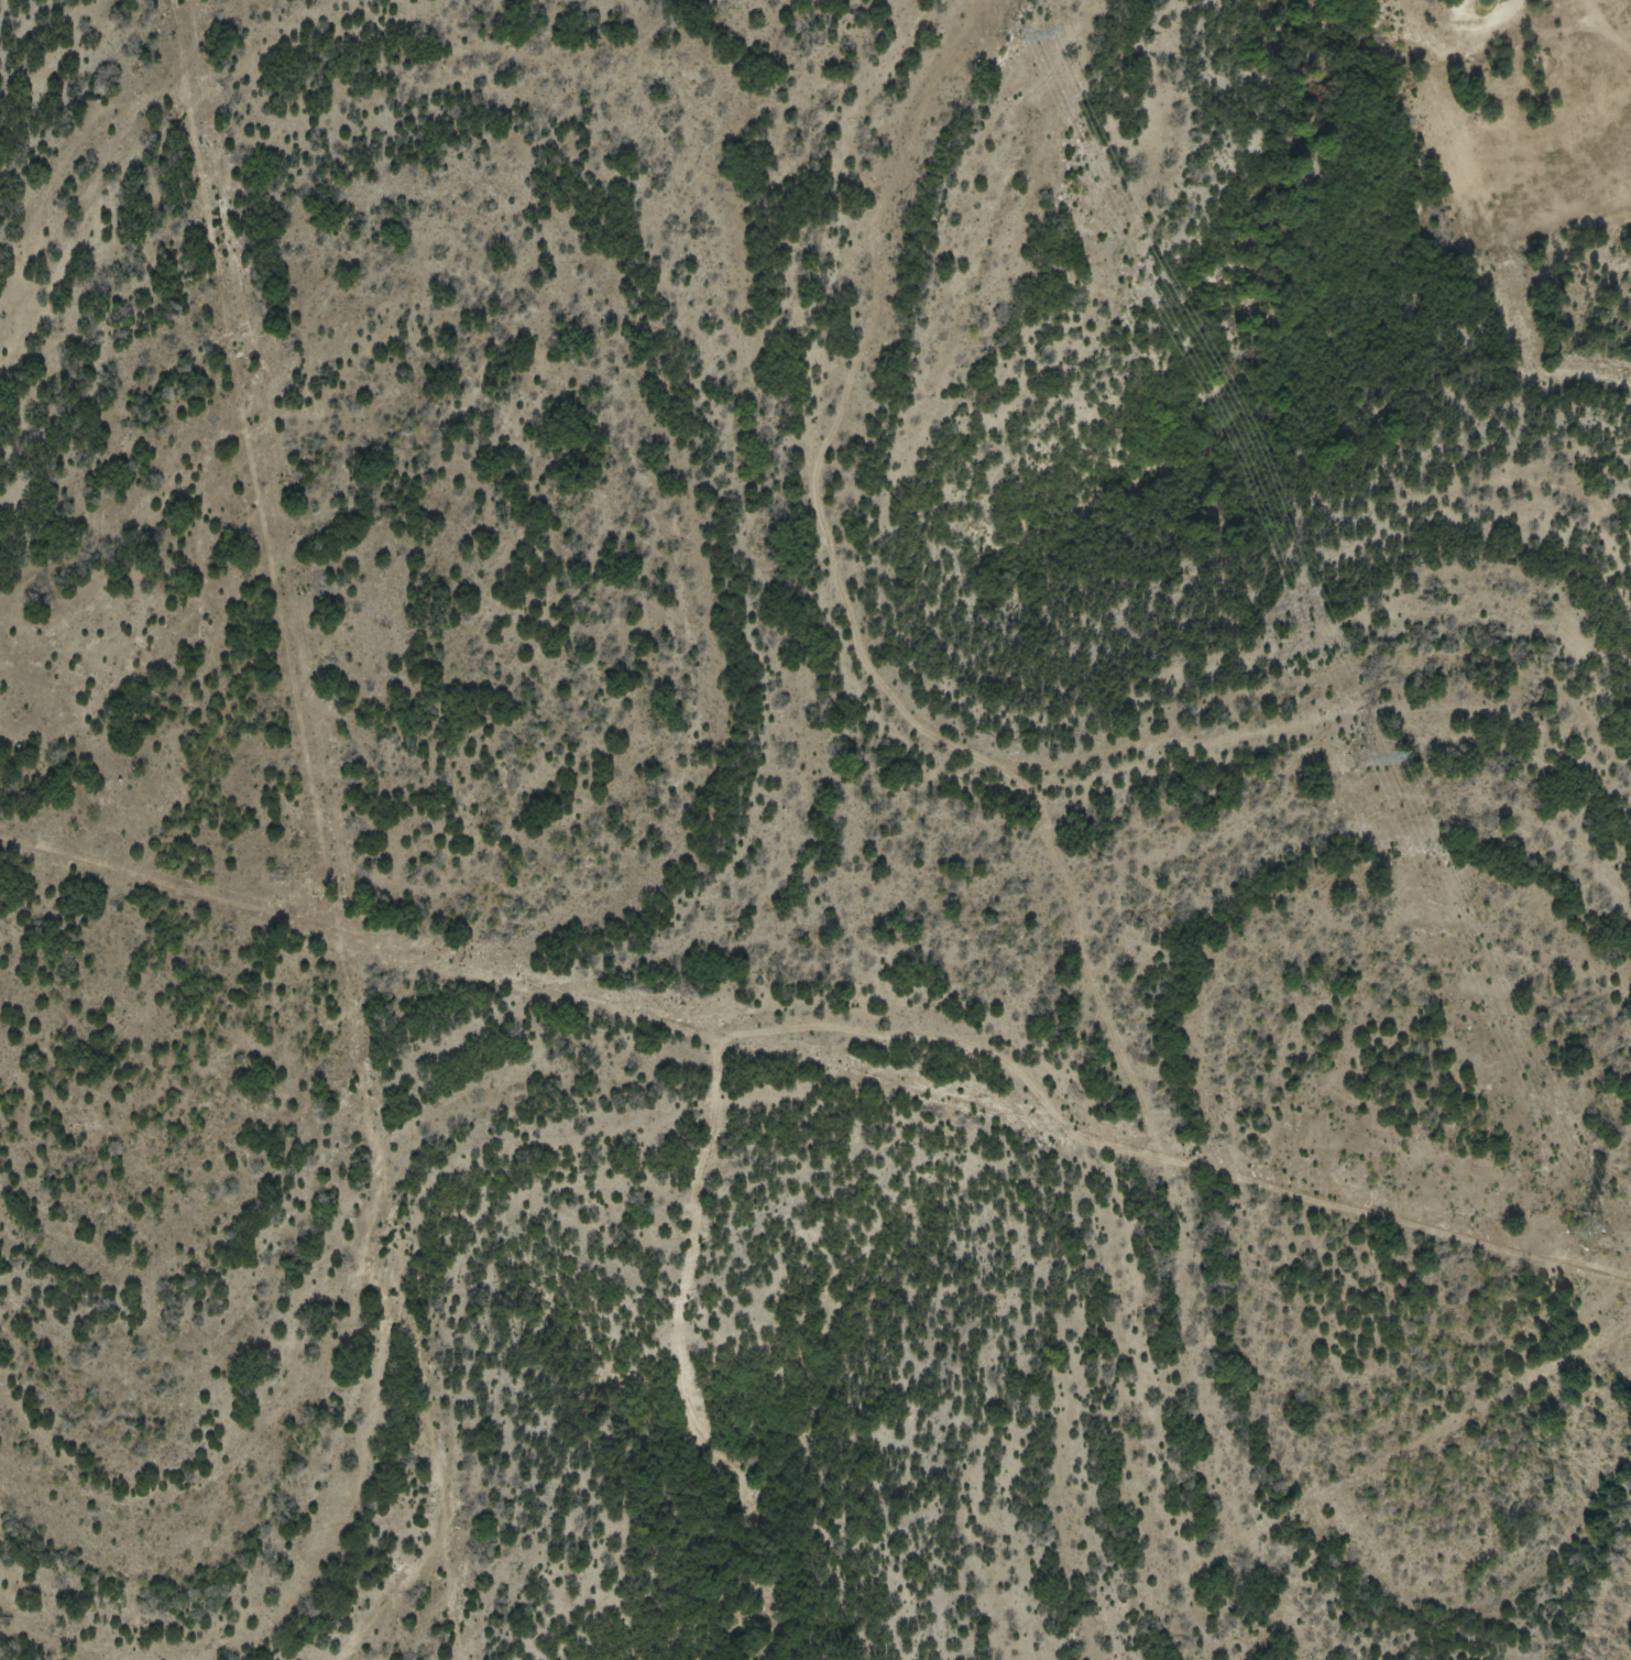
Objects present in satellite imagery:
power tower: (1005, 33)
power tower: (1355, 753)
power tower: (1587, 1230)

